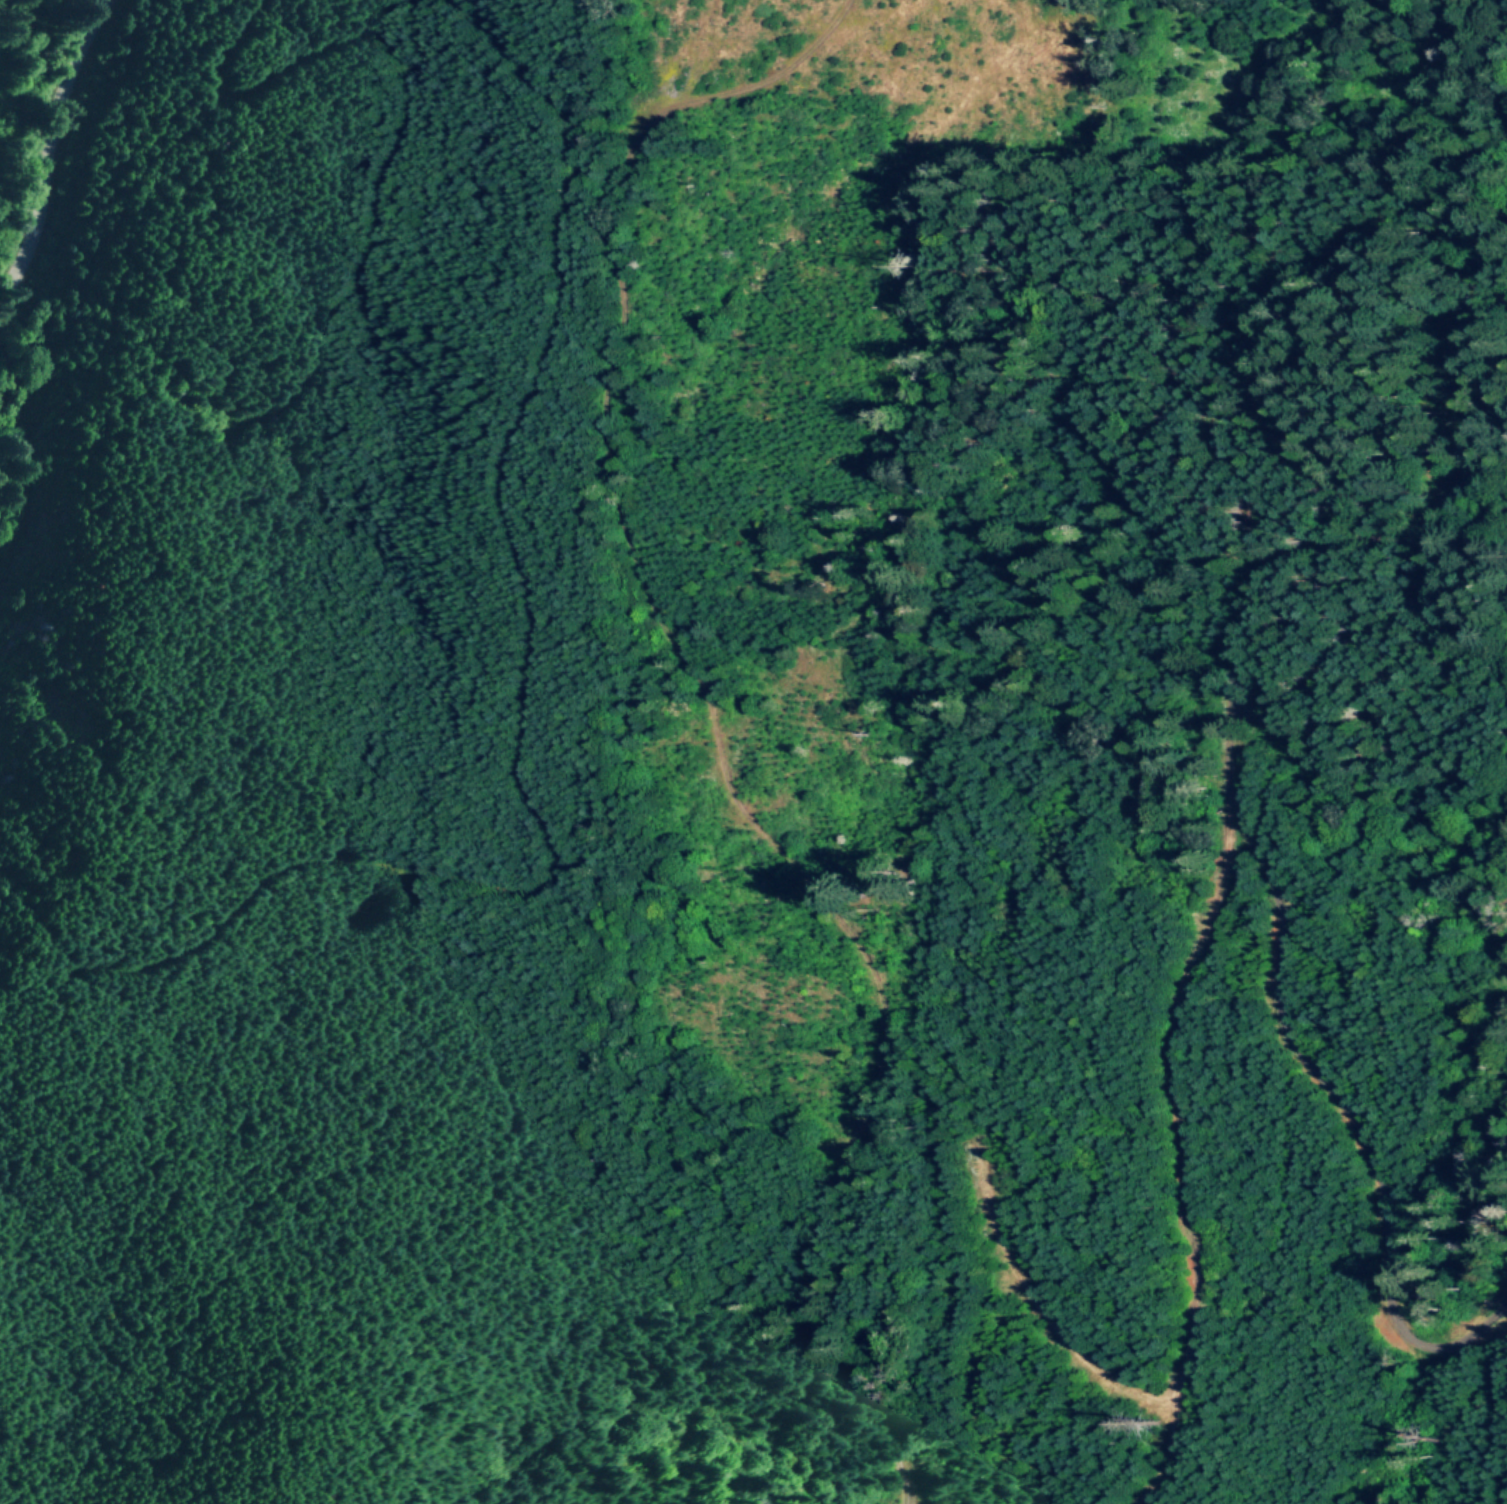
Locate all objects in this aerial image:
road: (51, 145)

